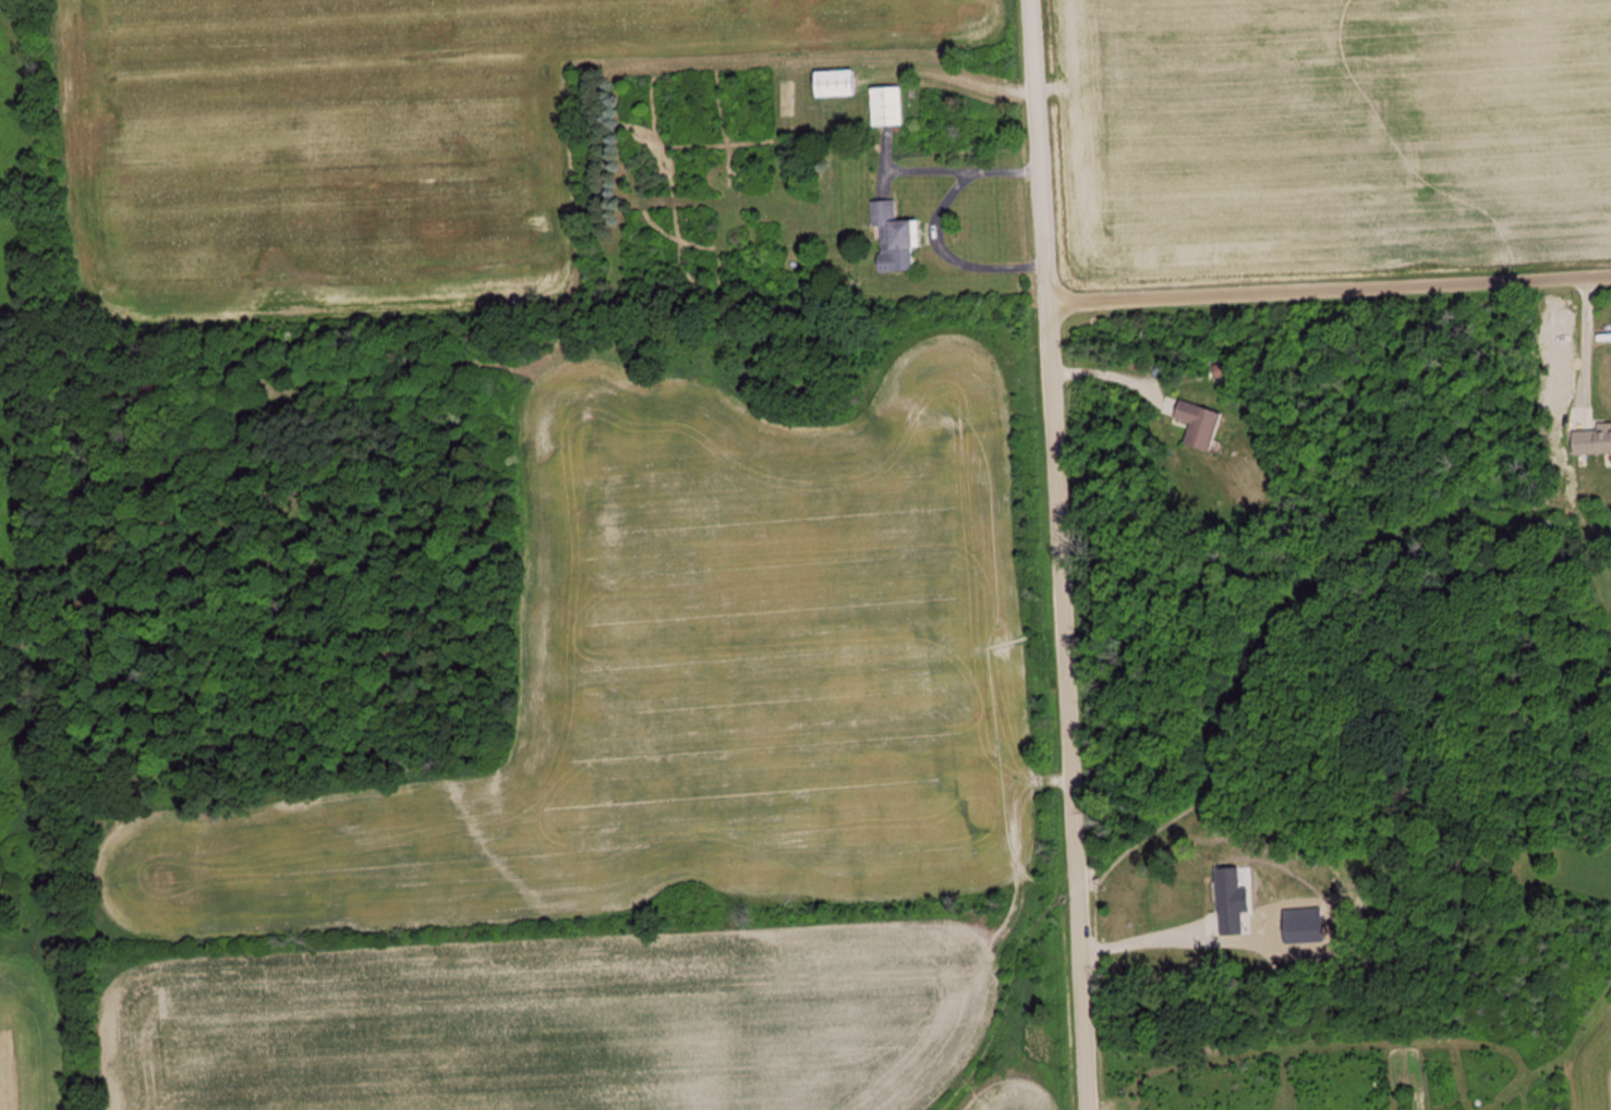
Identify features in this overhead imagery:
building: (832, 83)
building: (884, 106)
building: (892, 237)
road: (1325, 290)
building: (1197, 426)
building: (1591, 440)
road: (1055, 554)
building: (1230, 903)

